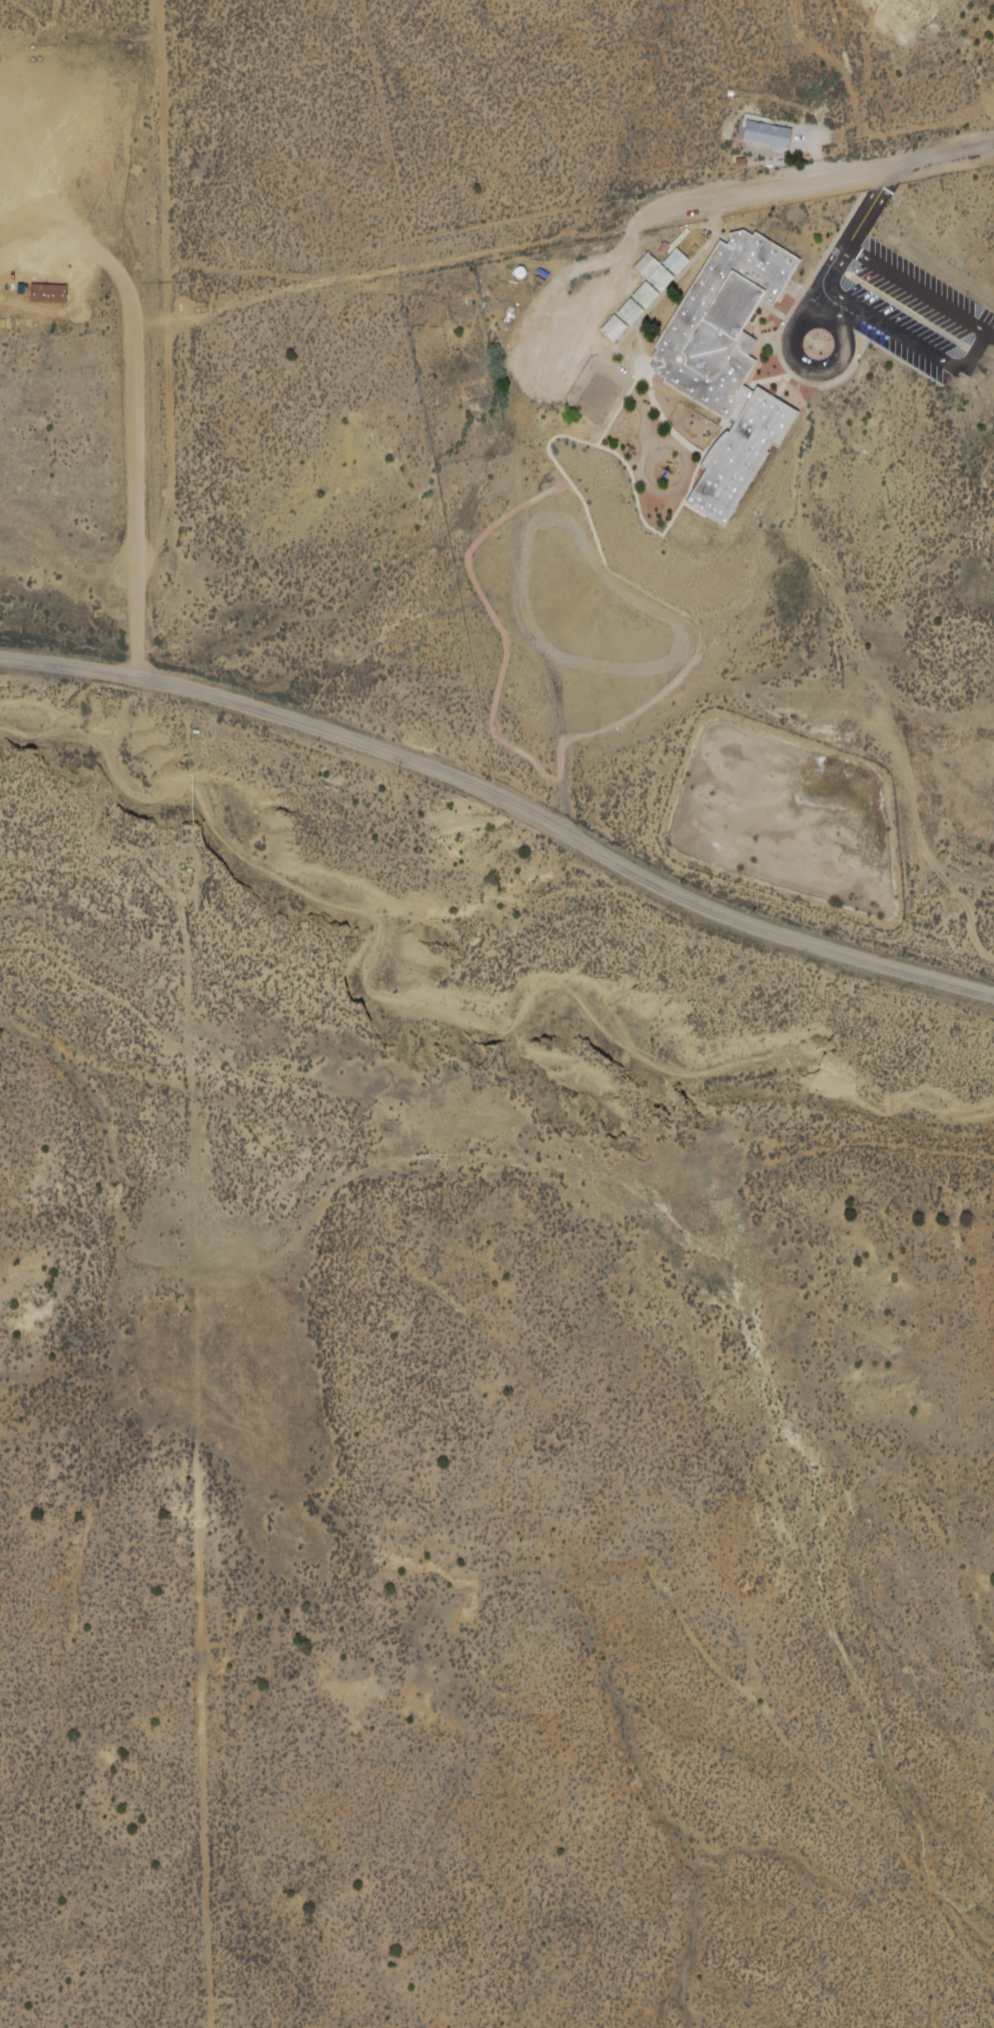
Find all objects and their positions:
building: (768, 135)
road: (737, 198)
road: (124, 288)
building: (647, 290)
road: (165, 344)
road: (930, 354)
building: (736, 364)
road: (816, 370)
road: (505, 799)

